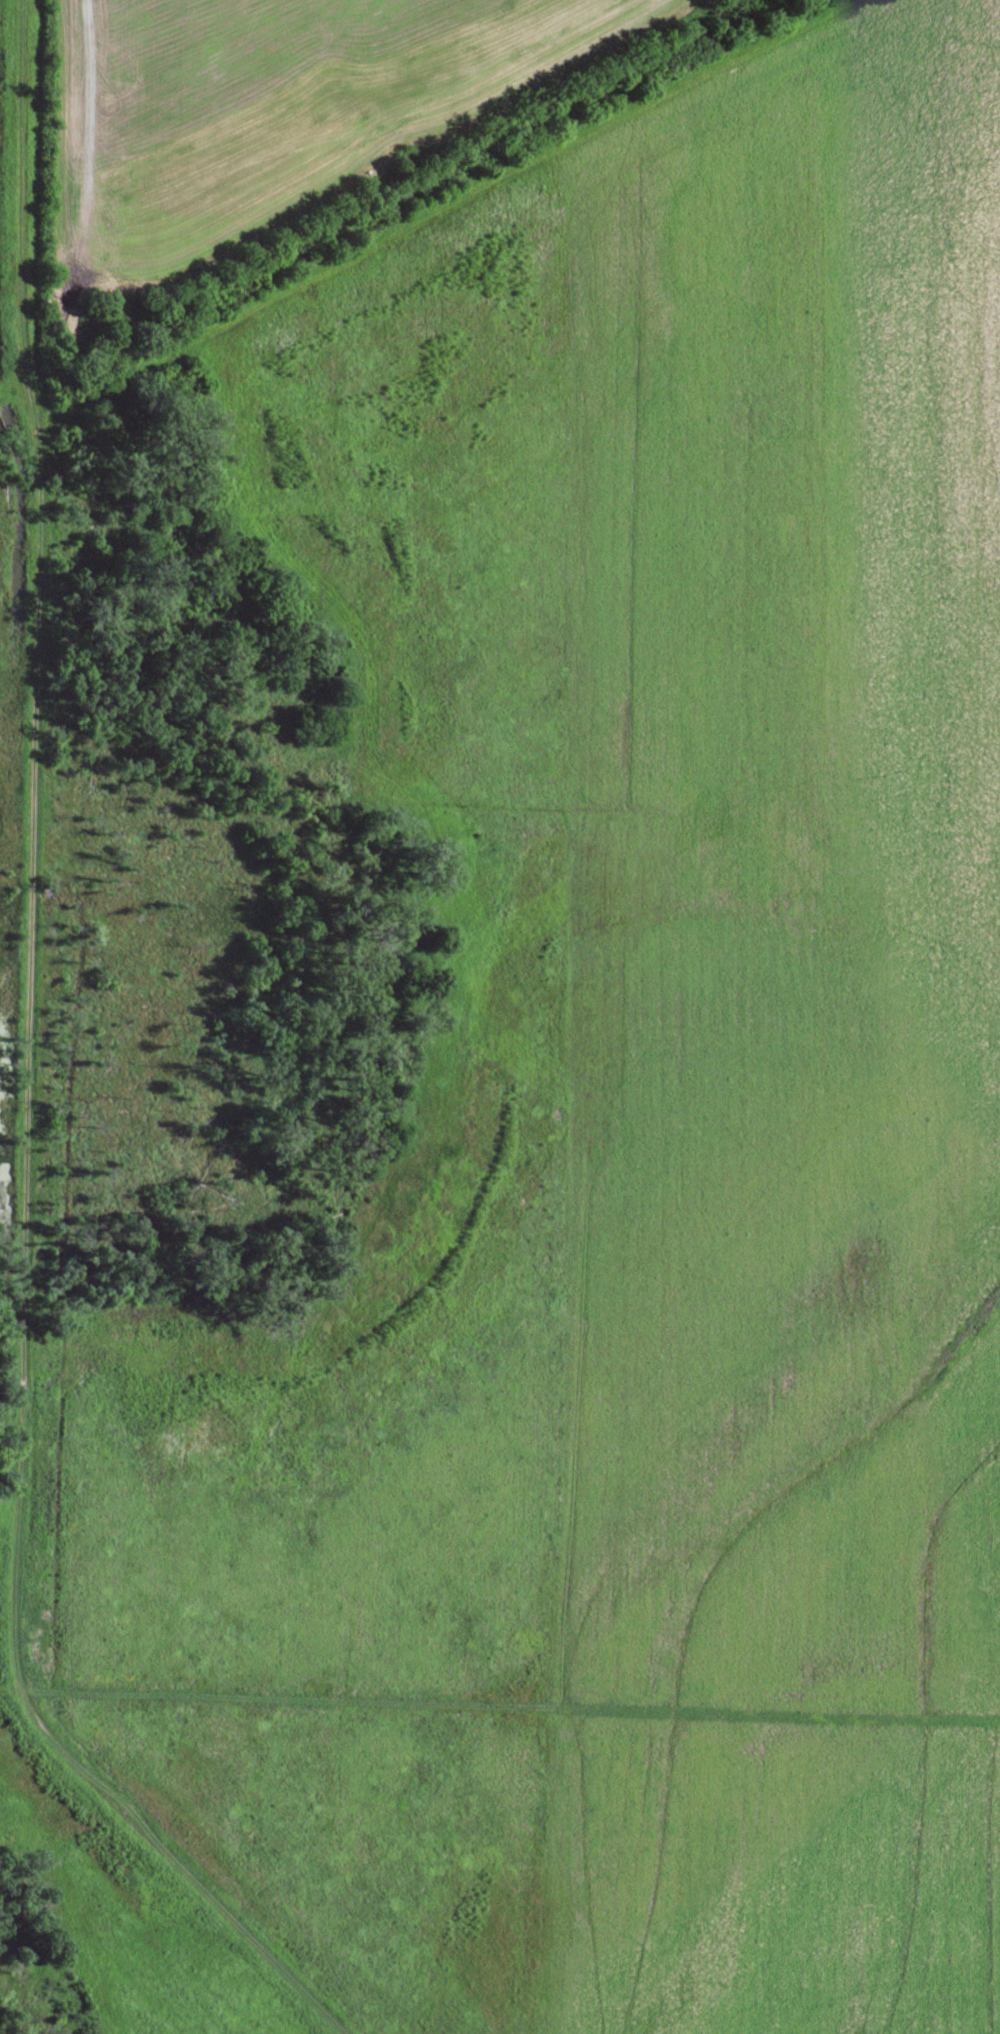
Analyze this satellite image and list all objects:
road: (24, 1080)

